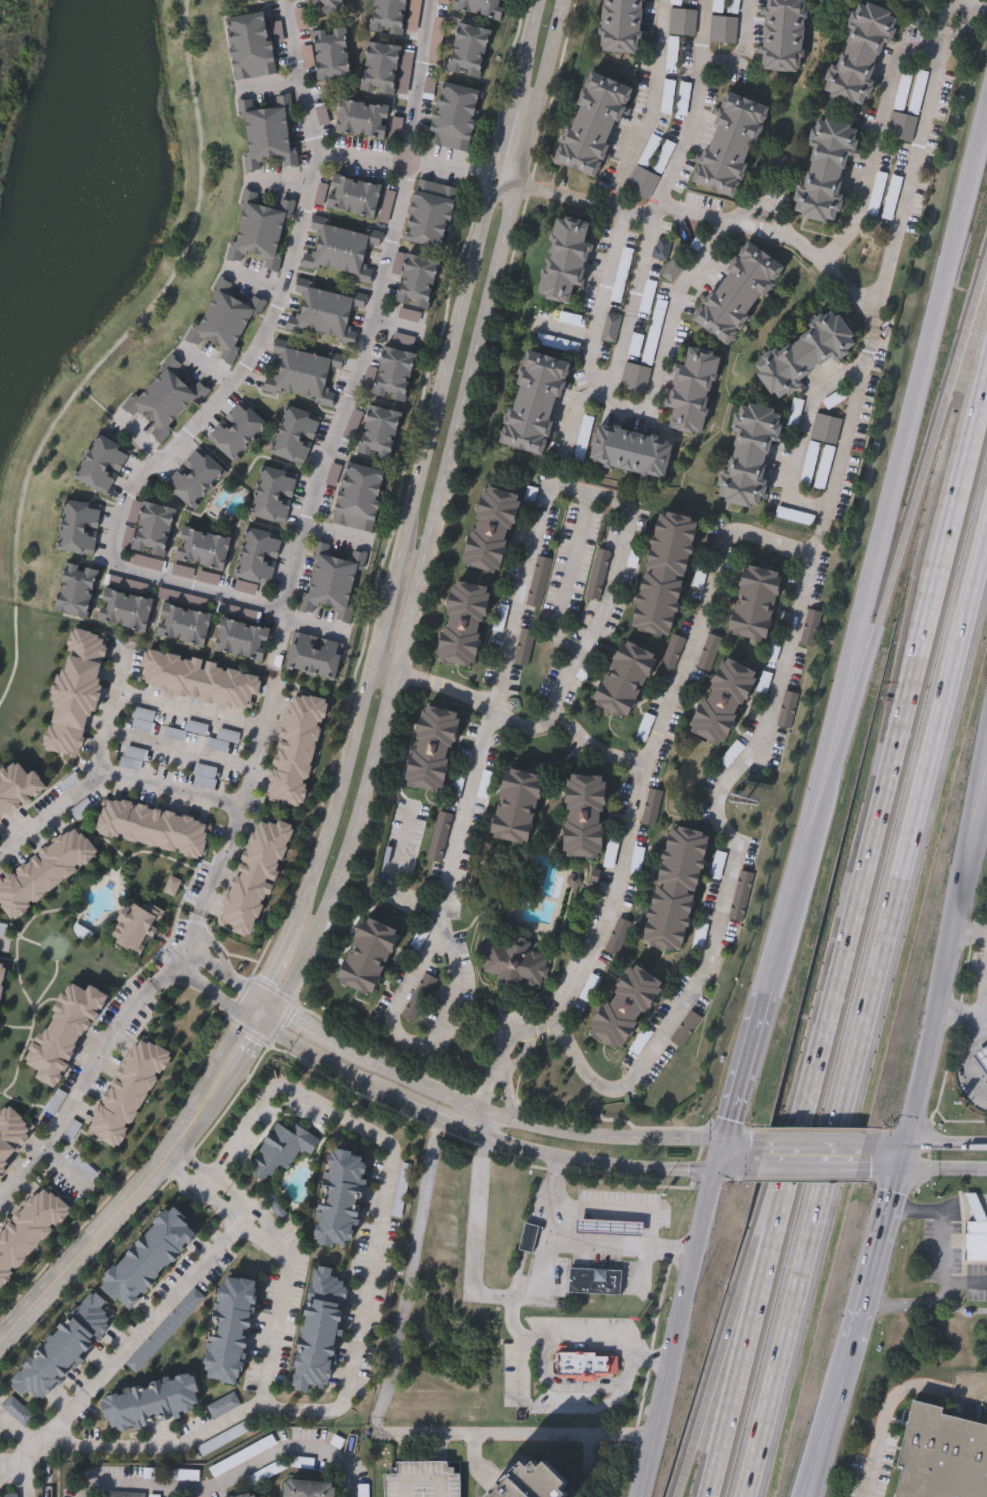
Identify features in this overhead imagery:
building: (258, 0)
building: (328, 6)
road: (970, 6)
building: (480, 7)
road: (949, 10)
building: (387, 17)
building: (620, 27)
road: (701, 30)
road: (941, 33)
building: (782, 36)
building: (250, 45)
building: (468, 51)
building: (330, 53)
road: (526, 53)
road: (938, 54)
building: (858, 55)
building: (379, 68)
road: (272, 84)
road: (696, 89)
building: (682, 99)
road: (652, 108)
building: (321, 114)
building: (909, 114)
building: (454, 116)
building: (360, 119)
building: (593, 126)
building: (267, 131)
road: (325, 141)
road: (503, 143)
building: (730, 146)
building: (824, 171)
road: (481, 174)
road: (971, 176)
road: (280, 184)
building: (643, 185)
road: (523, 187)
building: (878, 195)
building: (347, 196)
road: (569, 197)
building: (893, 199)
building: (430, 214)
road: (750, 224)
building: (260, 231)
building: (340, 251)
building: (565, 260)
building: (416, 281)
building: (737, 295)
road: (631, 304)
building: (328, 313)
building: (229, 320)
road: (370, 338)
building: (803, 357)
building: (396, 367)
building: (304, 373)
road: (444, 380)
building: (693, 391)
building: (168, 400)
building: (534, 406)
road: (637, 406)
road: (573, 411)
building: (826, 430)
building: (235, 431)
building: (378, 433)
road: (187, 434)
building: (294, 435)
building: (630, 453)
building: (749, 458)
building: (100, 465)
building: (193, 478)
building: (823, 483)
building: (272, 495)
building: (357, 498)
road: (914, 500)
road: (820, 504)
road: (435, 510)
building: (796, 518)
building: (77, 527)
building: (151, 529)
road: (880, 530)
road: (822, 531)
building: (489, 532)
building: (200, 549)
building: (257, 556)
building: (665, 567)
road: (567, 576)
building: (599, 576)
building: (332, 579)
building: (540, 583)
road: (802, 584)
building: (73, 590)
building: (753, 599)
building: (122, 611)
building: (181, 626)
road: (383, 626)
building: (461, 626)
building: (811, 626)
road: (512, 627)
building: (240, 641)
building: (526, 649)
building: (314, 656)
building: (626, 675)
road: (400, 676)
building: (198, 680)
building: (73, 693)
building: (724, 698)
building: (788, 710)
road: (190, 712)
building: (141, 720)
road: (540, 725)
road: (982, 734)
road: (262, 739)
building: (300, 744)
building: (432, 747)
building: (133, 759)
road: (97, 770)
road: (827, 782)
building: (20, 788)
road: (169, 790)
road: (339, 799)
road: (880, 802)
building: (518, 804)
road: (974, 808)
building: (584, 812)
building: (151, 826)
building: (439, 835)
road: (225, 863)
building: (721, 866)
building: (43, 872)
road: (398, 872)
building: (254, 877)
building: (676, 885)
building: (744, 897)
road: (787, 910)
road: (971, 924)
building: (135, 926)
road: (193, 937)
building: (703, 938)
building: (368, 951)
road: (274, 960)
building: (516, 962)
road: (945, 966)
road: (170, 972)
road: (221, 972)
building: (2, 975)
road: (210, 990)
road: (402, 992)
road: (141, 1000)
road: (266, 1003)
road: (250, 1006)
building: (626, 1006)
road: (970, 1011)
road: (866, 1012)
road: (270, 1019)
building: (686, 1026)
road: (311, 1029)
building: (64, 1030)
road: (244, 1031)
road: (253, 1038)
building: (982, 1055)
gas station: (982, 1055)
road: (969, 1057)
road: (500, 1065)
road: (742, 1067)
road: (420, 1075)
building: (127, 1091)
building: (55, 1102)
road: (259, 1107)
road: (68, 1109)
road: (528, 1122)
road: (482, 1123)
road: (370, 1130)
building: (11, 1131)
road: (488, 1138)
traffic signals: (723, 1140)
road: (744, 1140)
road: (815, 1141)
road: (886, 1141)
traffic signals: (907, 1141)
road: (947, 1141)
building: (281, 1149)
road: (719, 1155)
road: (903, 1156)
road: (202, 1167)
road: (808, 1170)
traffic signals: (716, 1171)
road: (878, 1171)
road: (943, 1171)
traffic signals: (899, 1172)
road: (188, 1181)
building: (342, 1196)
road: (128, 1197)
road: (243, 1198)
road: (986, 1206)
road: (975, 1208)
road: (645, 1209)
road: (954, 1211)
road: (229, 1214)
road: (249, 1216)
road: (944, 1224)
gas station: (609, 1226)
building: (28, 1228)
building: (607, 1228)
gas station: (973, 1231)
road: (271, 1232)
building: (974, 1234)
road: (550, 1235)
building: (530, 1236)
road: (264, 1240)
road: (624, 1249)
building: (153, 1255)
road: (876, 1257)
road: (755, 1269)
building: (595, 1278)
road: (494, 1295)
road: (928, 1301)
building: (231, 1329)
building: (322, 1329)
road: (276, 1331)
road: (679, 1334)
building: (66, 1346)
road: (128, 1348)
building: (585, 1360)
road: (653, 1360)
road: (741, 1362)
road: (524, 1370)
road: (630, 1374)
road: (965, 1394)
building: (152, 1402)
road: (706, 1404)
building: (223, 1406)
road: (576, 1408)
road: (317, 1410)
building: (18, 1412)
road: (378, 1413)
road: (832, 1419)
road: (884, 1419)
road: (825, 1422)
building: (941, 1456)
road: (4, 1461)
road: (589, 1465)
road: (4, 1470)
road: (25, 1475)
road: (232, 1475)
building: (422, 1480)
parking lot: (422, 1480)
building: (534, 1480)
road: (801, 1480)
building: (308, 1488)
building: (249, 1494)
building: (11, 1496)

